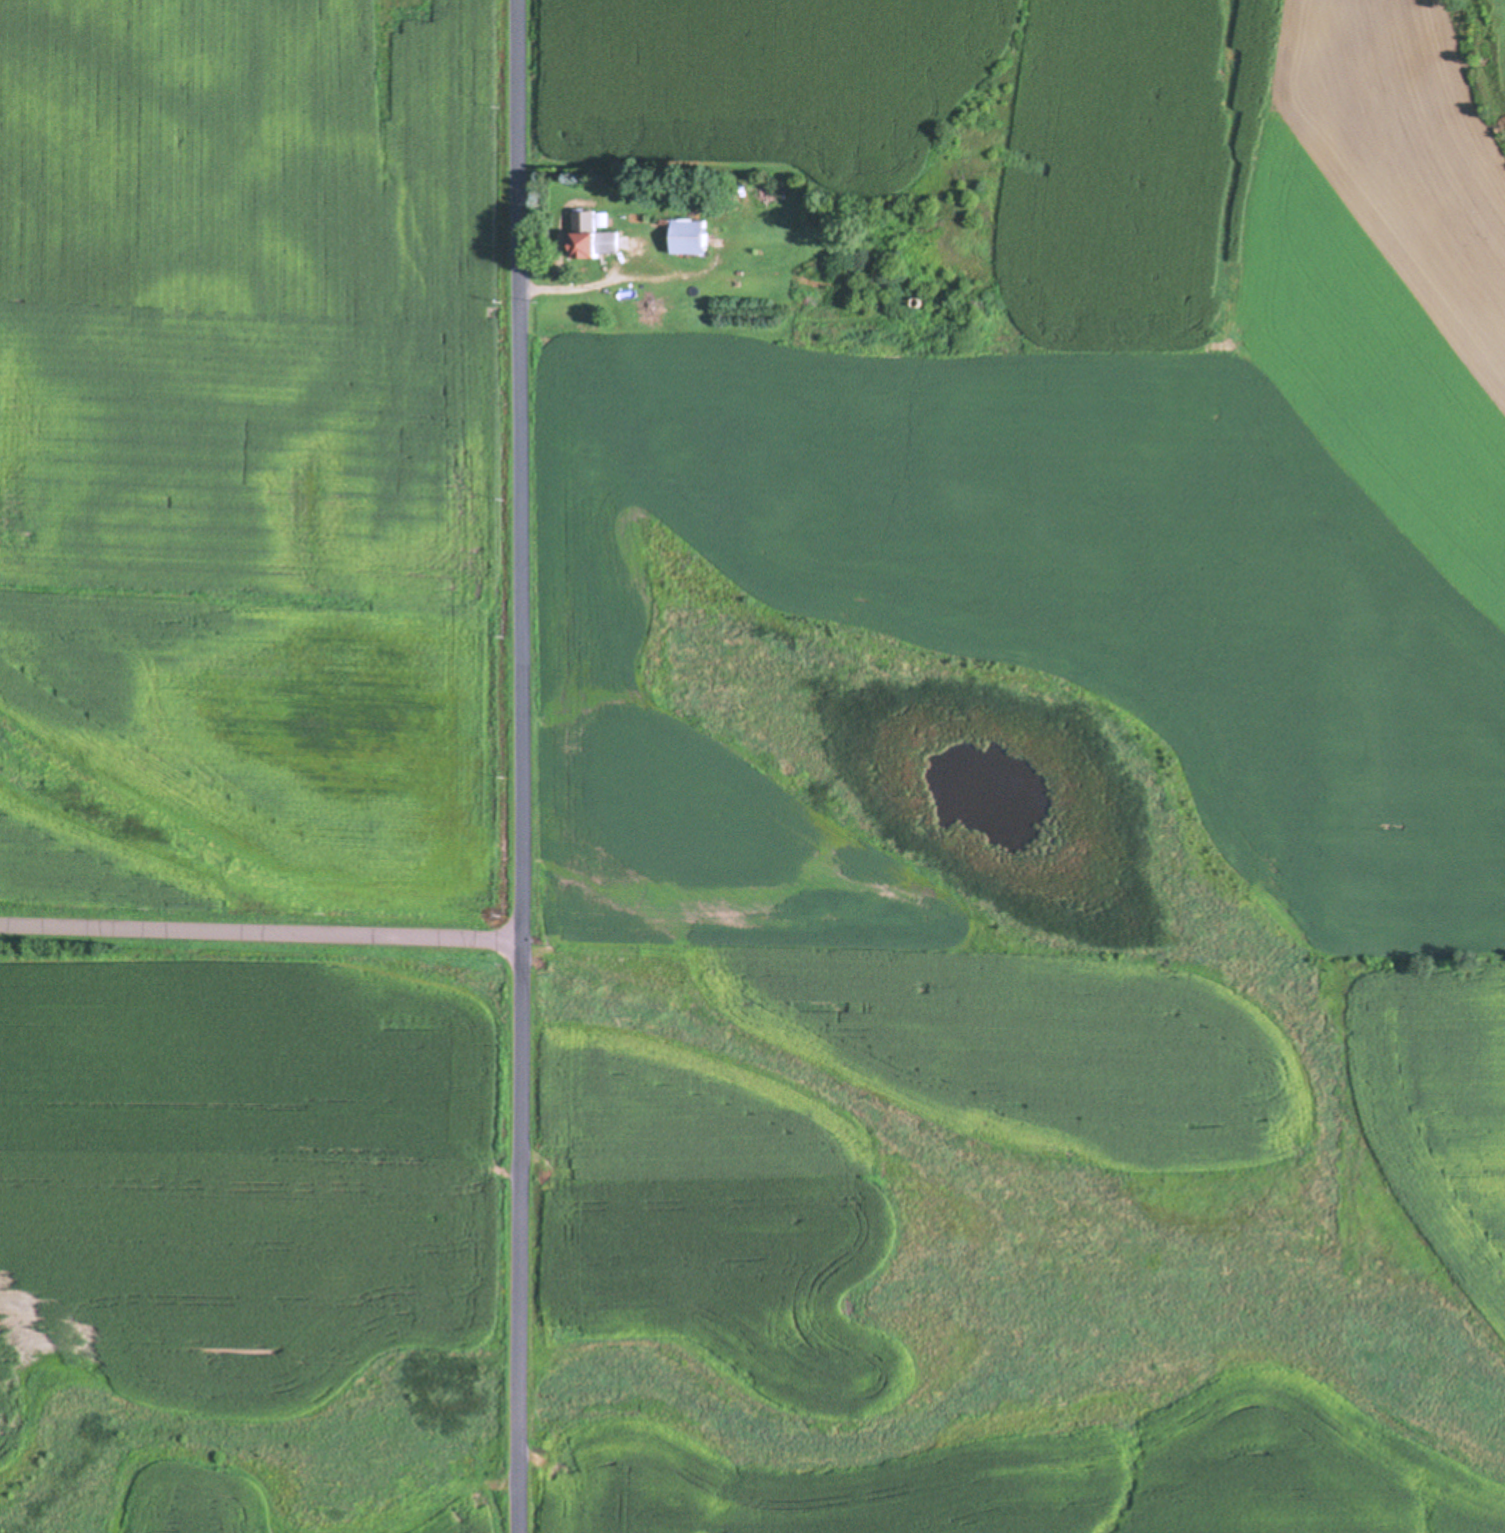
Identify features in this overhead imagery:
building: (687, 237)
building: (595, 244)
crop: (253, 462)
crop: (1069, 540)
road: (524, 766)
road: (262, 929)
crop: (243, 1167)
crop: (706, 1218)
crop: (1043, 1473)
crop: (262, 1505)

